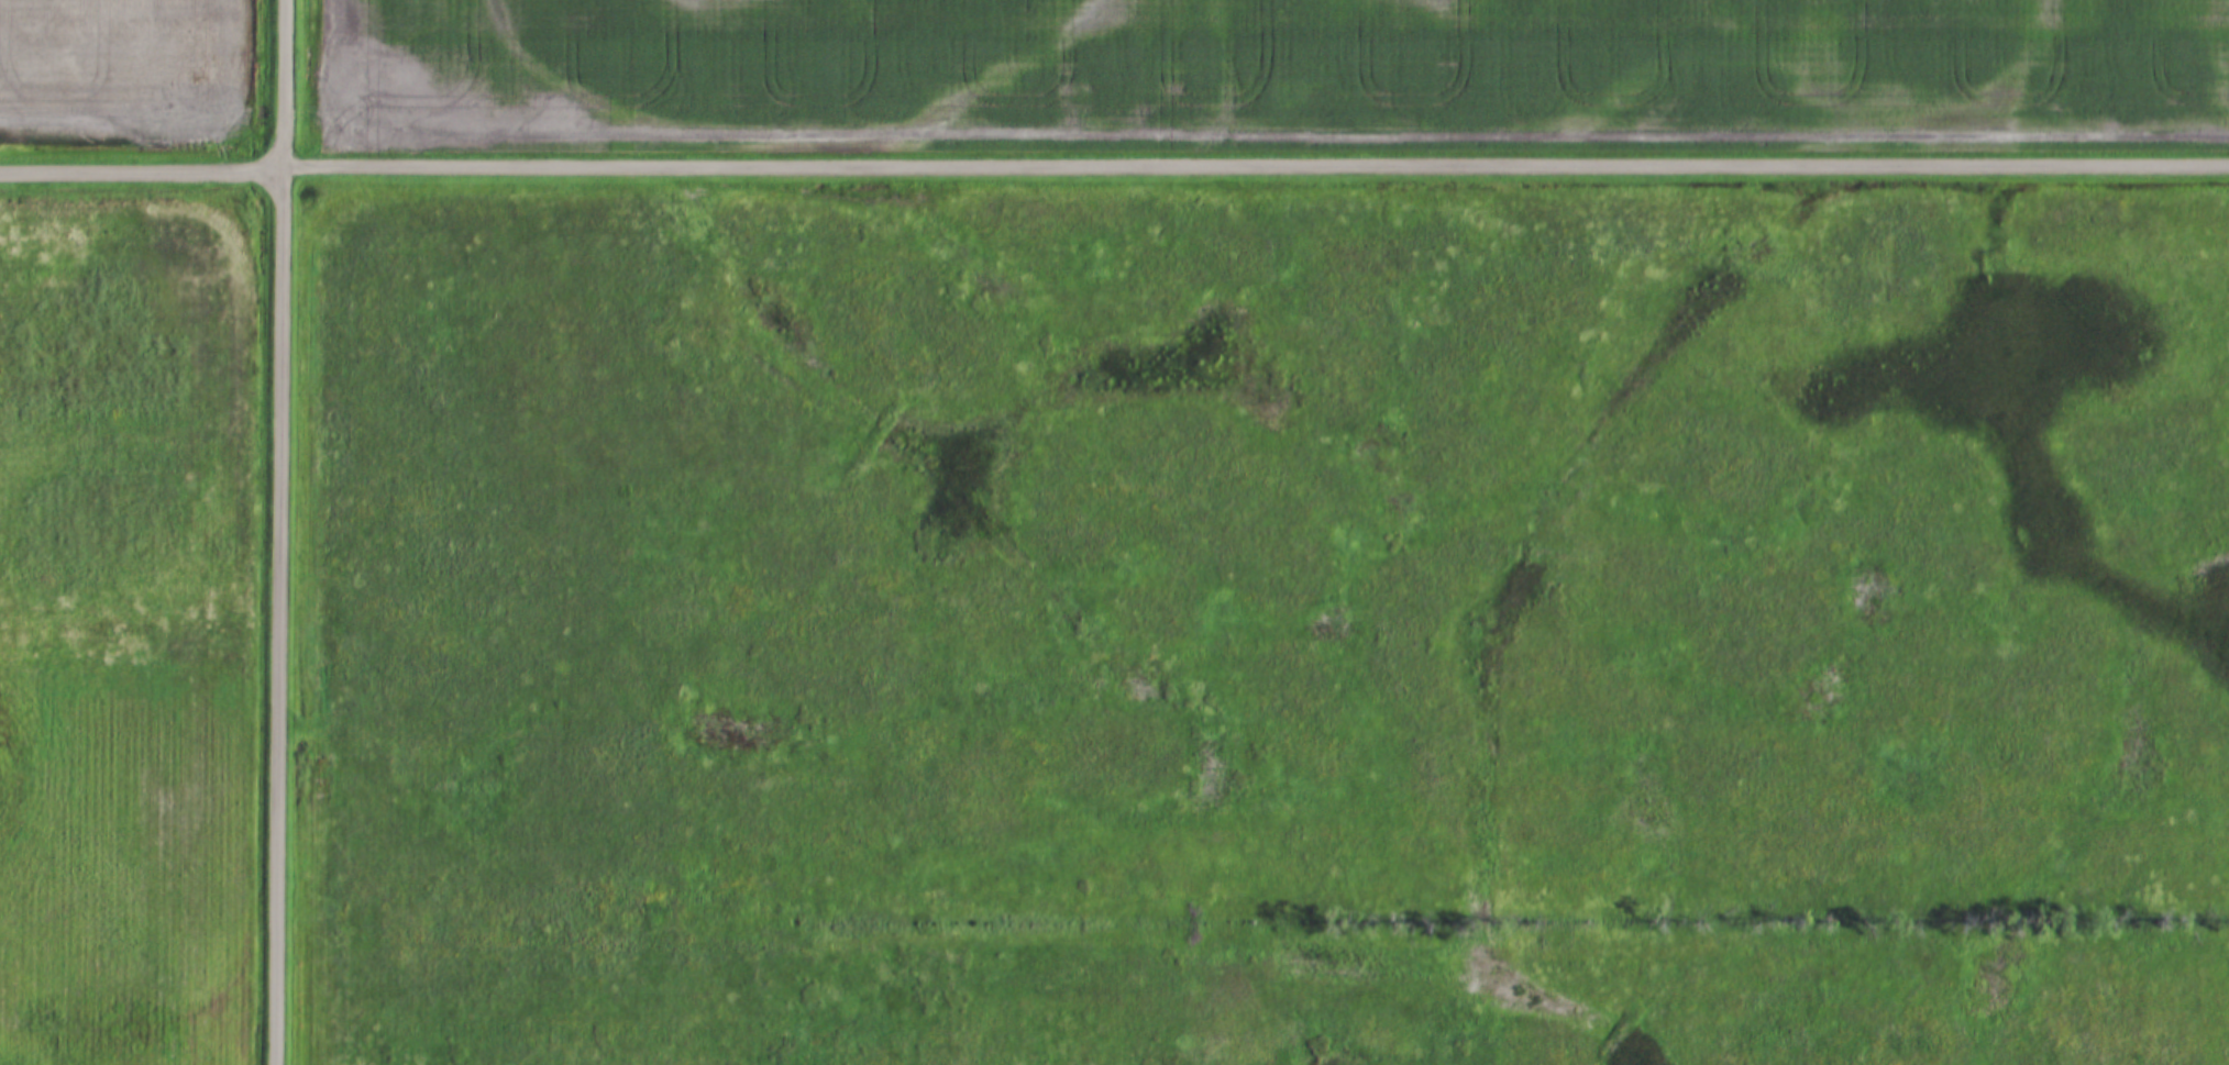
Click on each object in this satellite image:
road: (1114, 165)
road: (285, 532)

